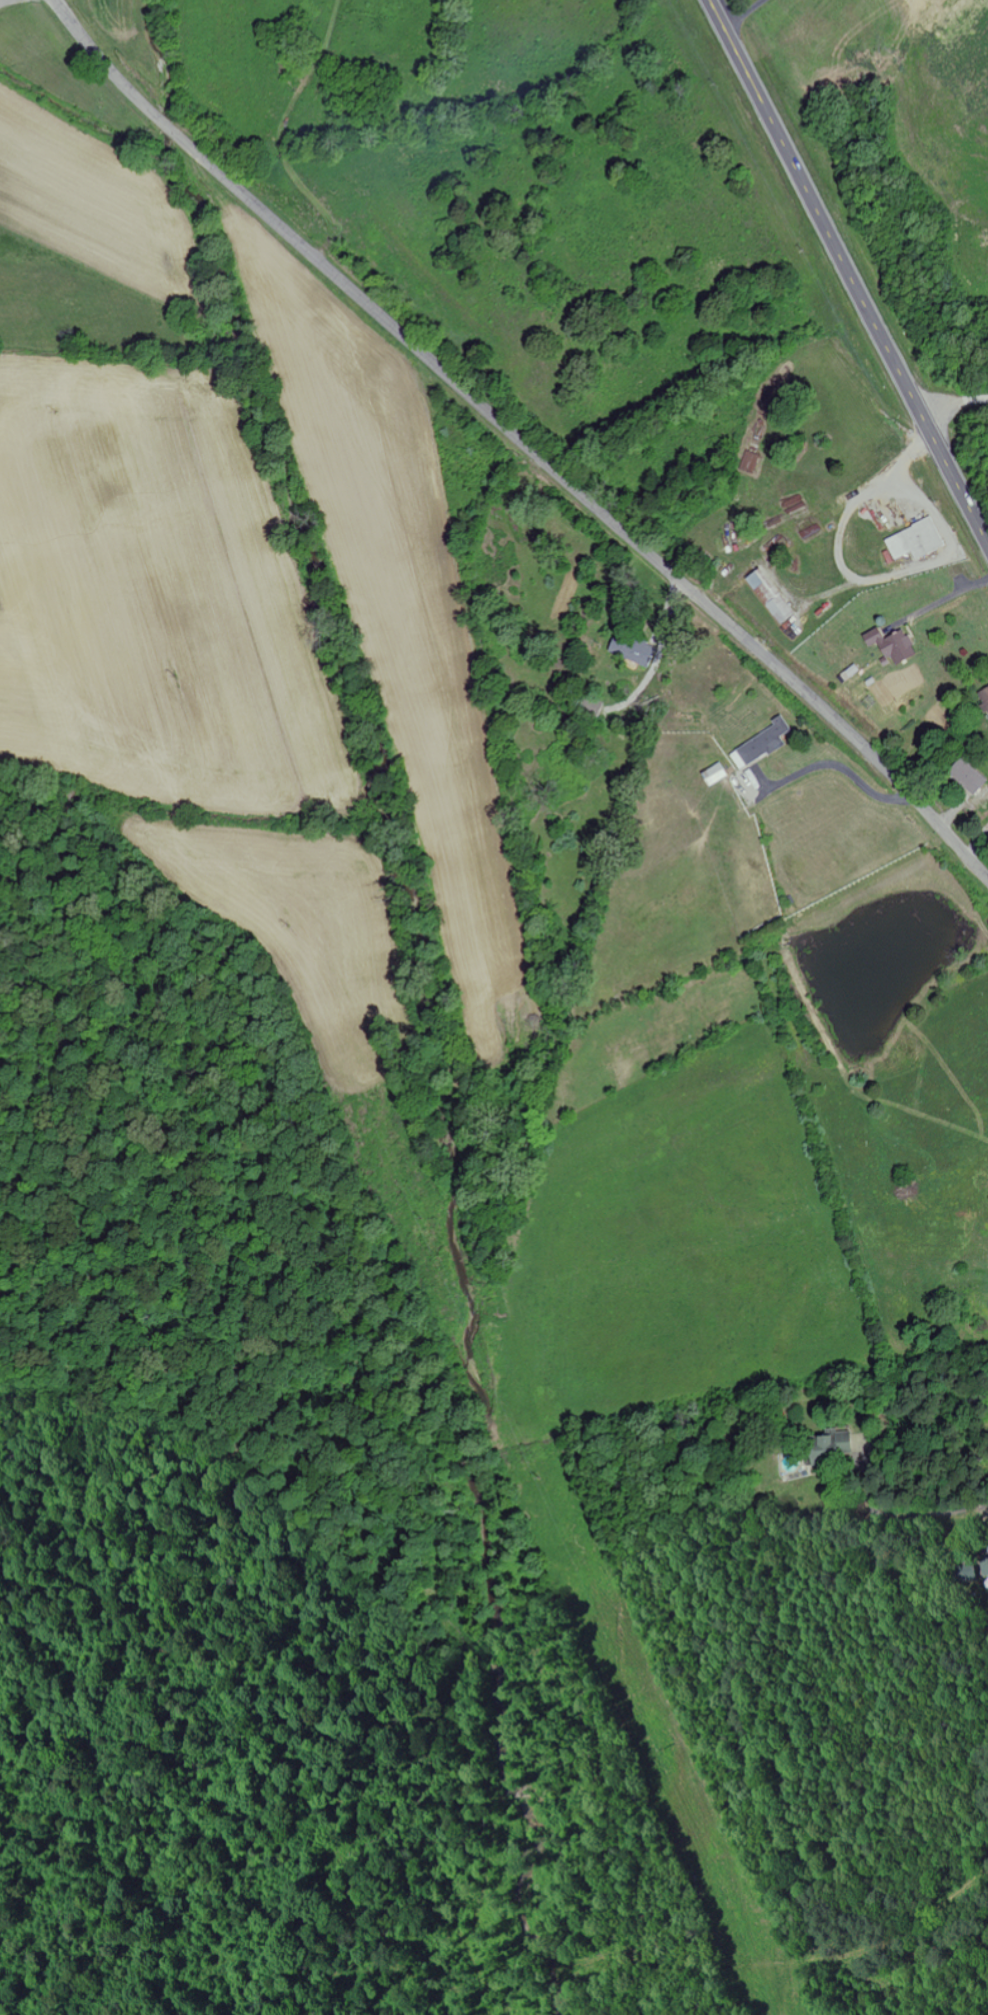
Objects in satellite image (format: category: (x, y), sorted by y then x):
road: (5, 2)
road: (848, 272)
road: (522, 438)
building: (914, 541)
building: (769, 596)
building: (891, 645)
building: (640, 652)
building: (984, 696)
building: (760, 745)
building: (714, 775)
building: (966, 777)
building: (829, 1448)
road: (984, 1507)

